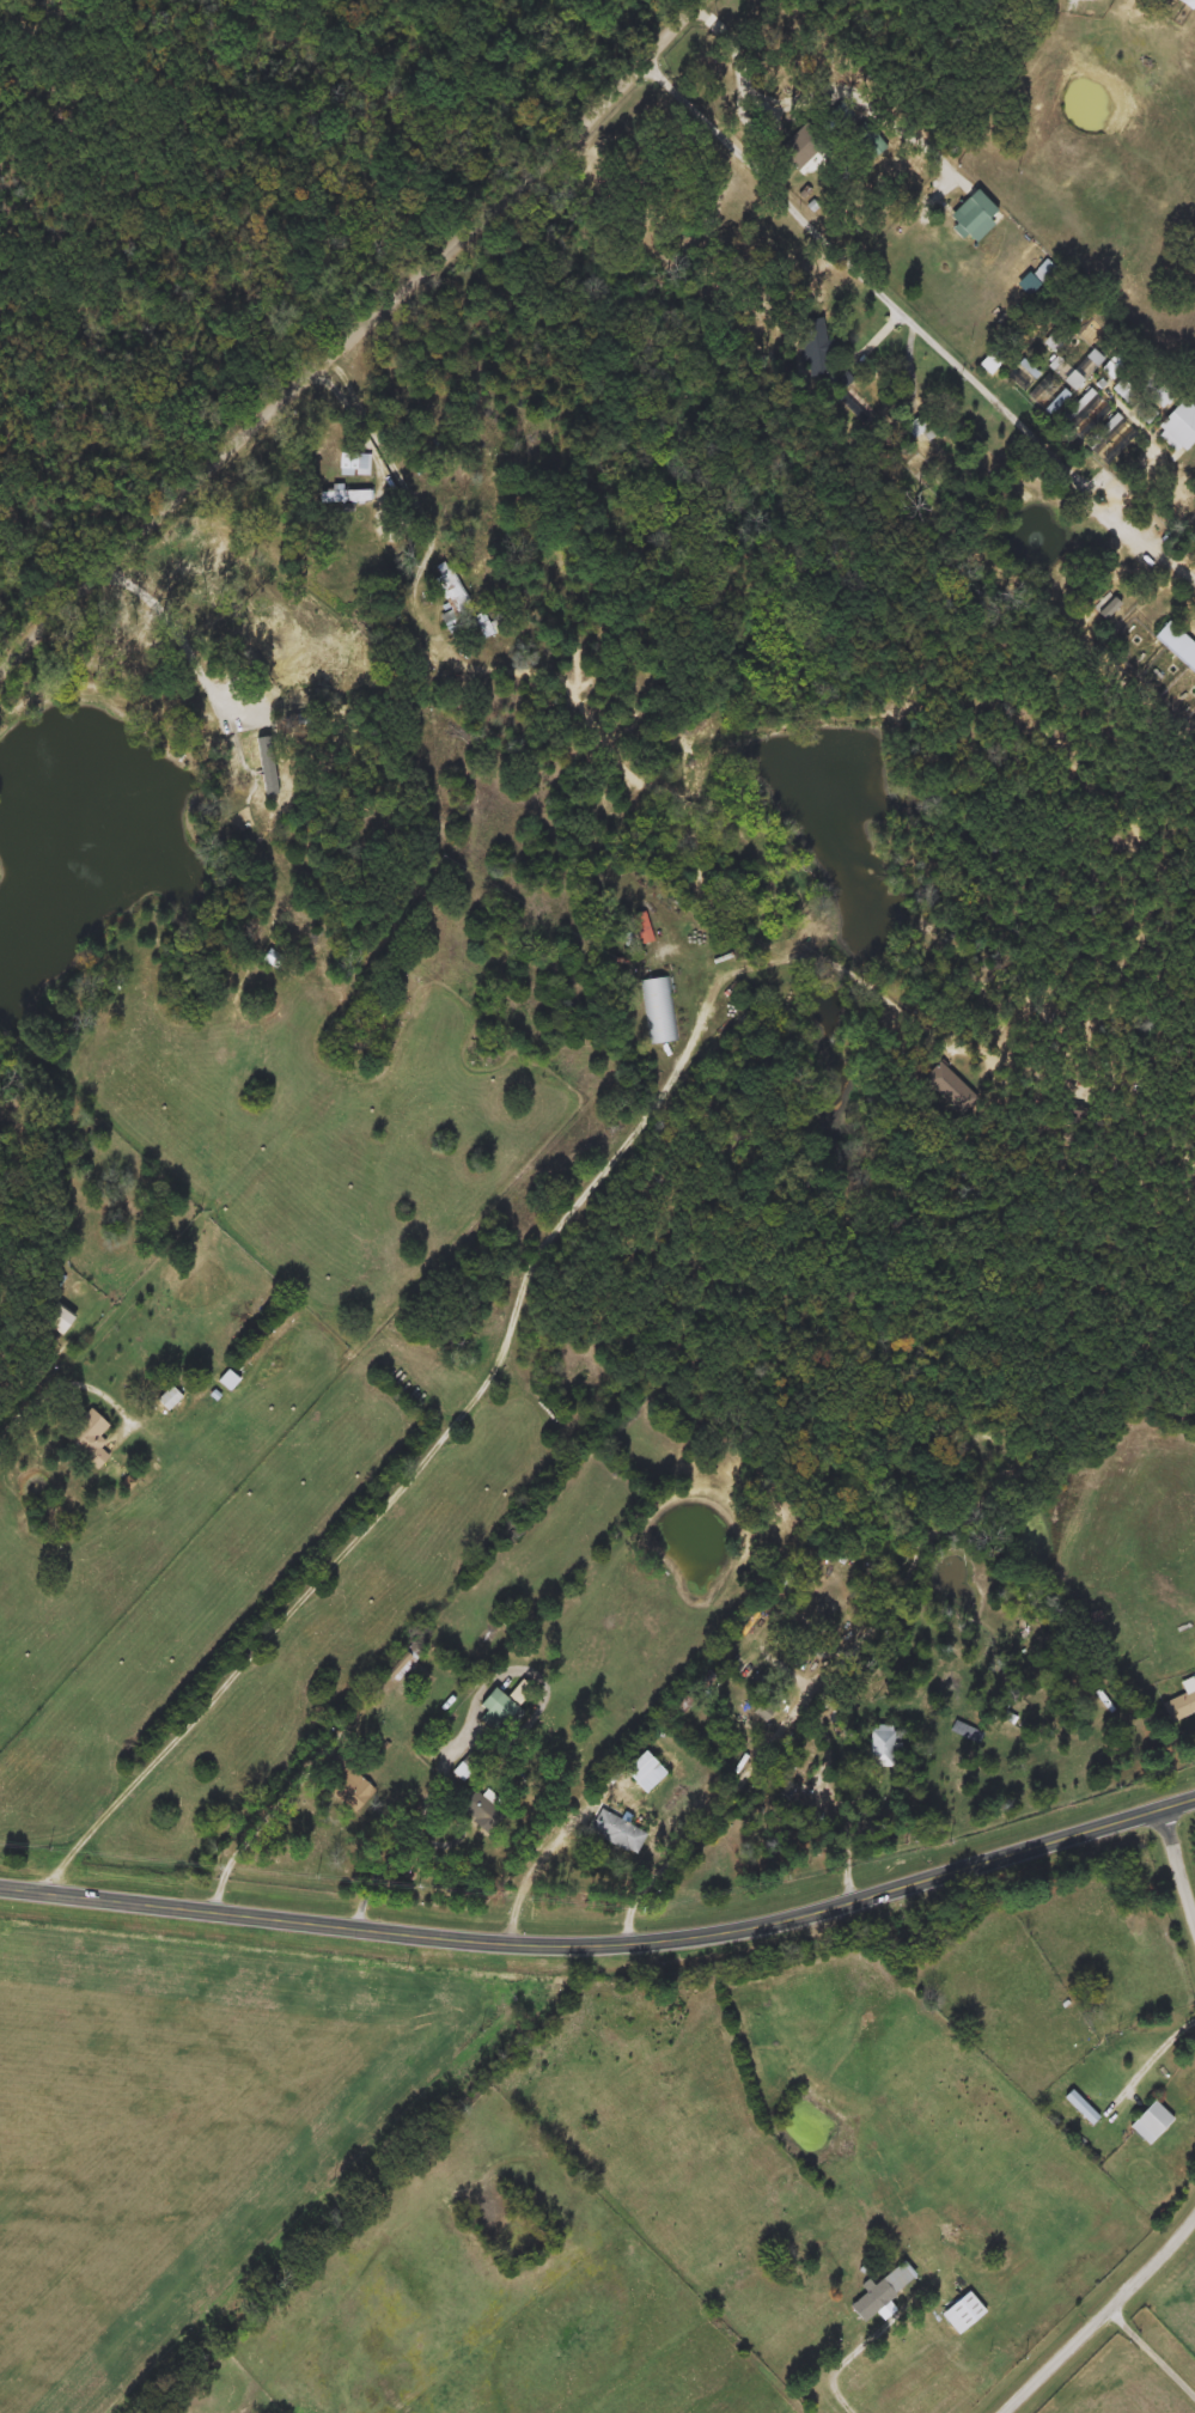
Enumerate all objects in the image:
building: (1188, 4)
road: (751, 54)
building: (984, 206)
road: (805, 217)
building: (1036, 262)
building: (1077, 315)
building: (1091, 333)
road: (352, 334)
building: (1054, 341)
building: (817, 351)
building: (1073, 380)
building: (1158, 388)
building: (1127, 394)
building: (922, 426)
road: (1037, 438)
road: (382, 449)
building: (352, 464)
building: (457, 607)
road: (187, 651)
building: (641, 927)
building: (663, 1010)
building: (944, 1086)
building: (56, 1316)
road: (495, 1373)
road: (68, 1378)
building: (230, 1379)
building: (170, 1399)
building: (90, 1438)
building: (694, 1695)
building: (498, 1707)
building: (1181, 1707)
building: (879, 1747)
building: (646, 1773)
building: (350, 1790)
road: (733, 1798)
road: (272, 1810)
building: (484, 1810)
building: (620, 1833)
road: (457, 1834)
road: (842, 1840)
road: (398, 1846)
road: (542, 1856)
road: (1179, 1863)
road: (605, 1944)
road: (1157, 2061)
building: (1084, 2107)
building: (1154, 2122)
building: (980, 2251)
building: (874, 2305)
building: (964, 2314)
road: (1099, 2315)
road: (1151, 2350)
road: (845, 2358)

